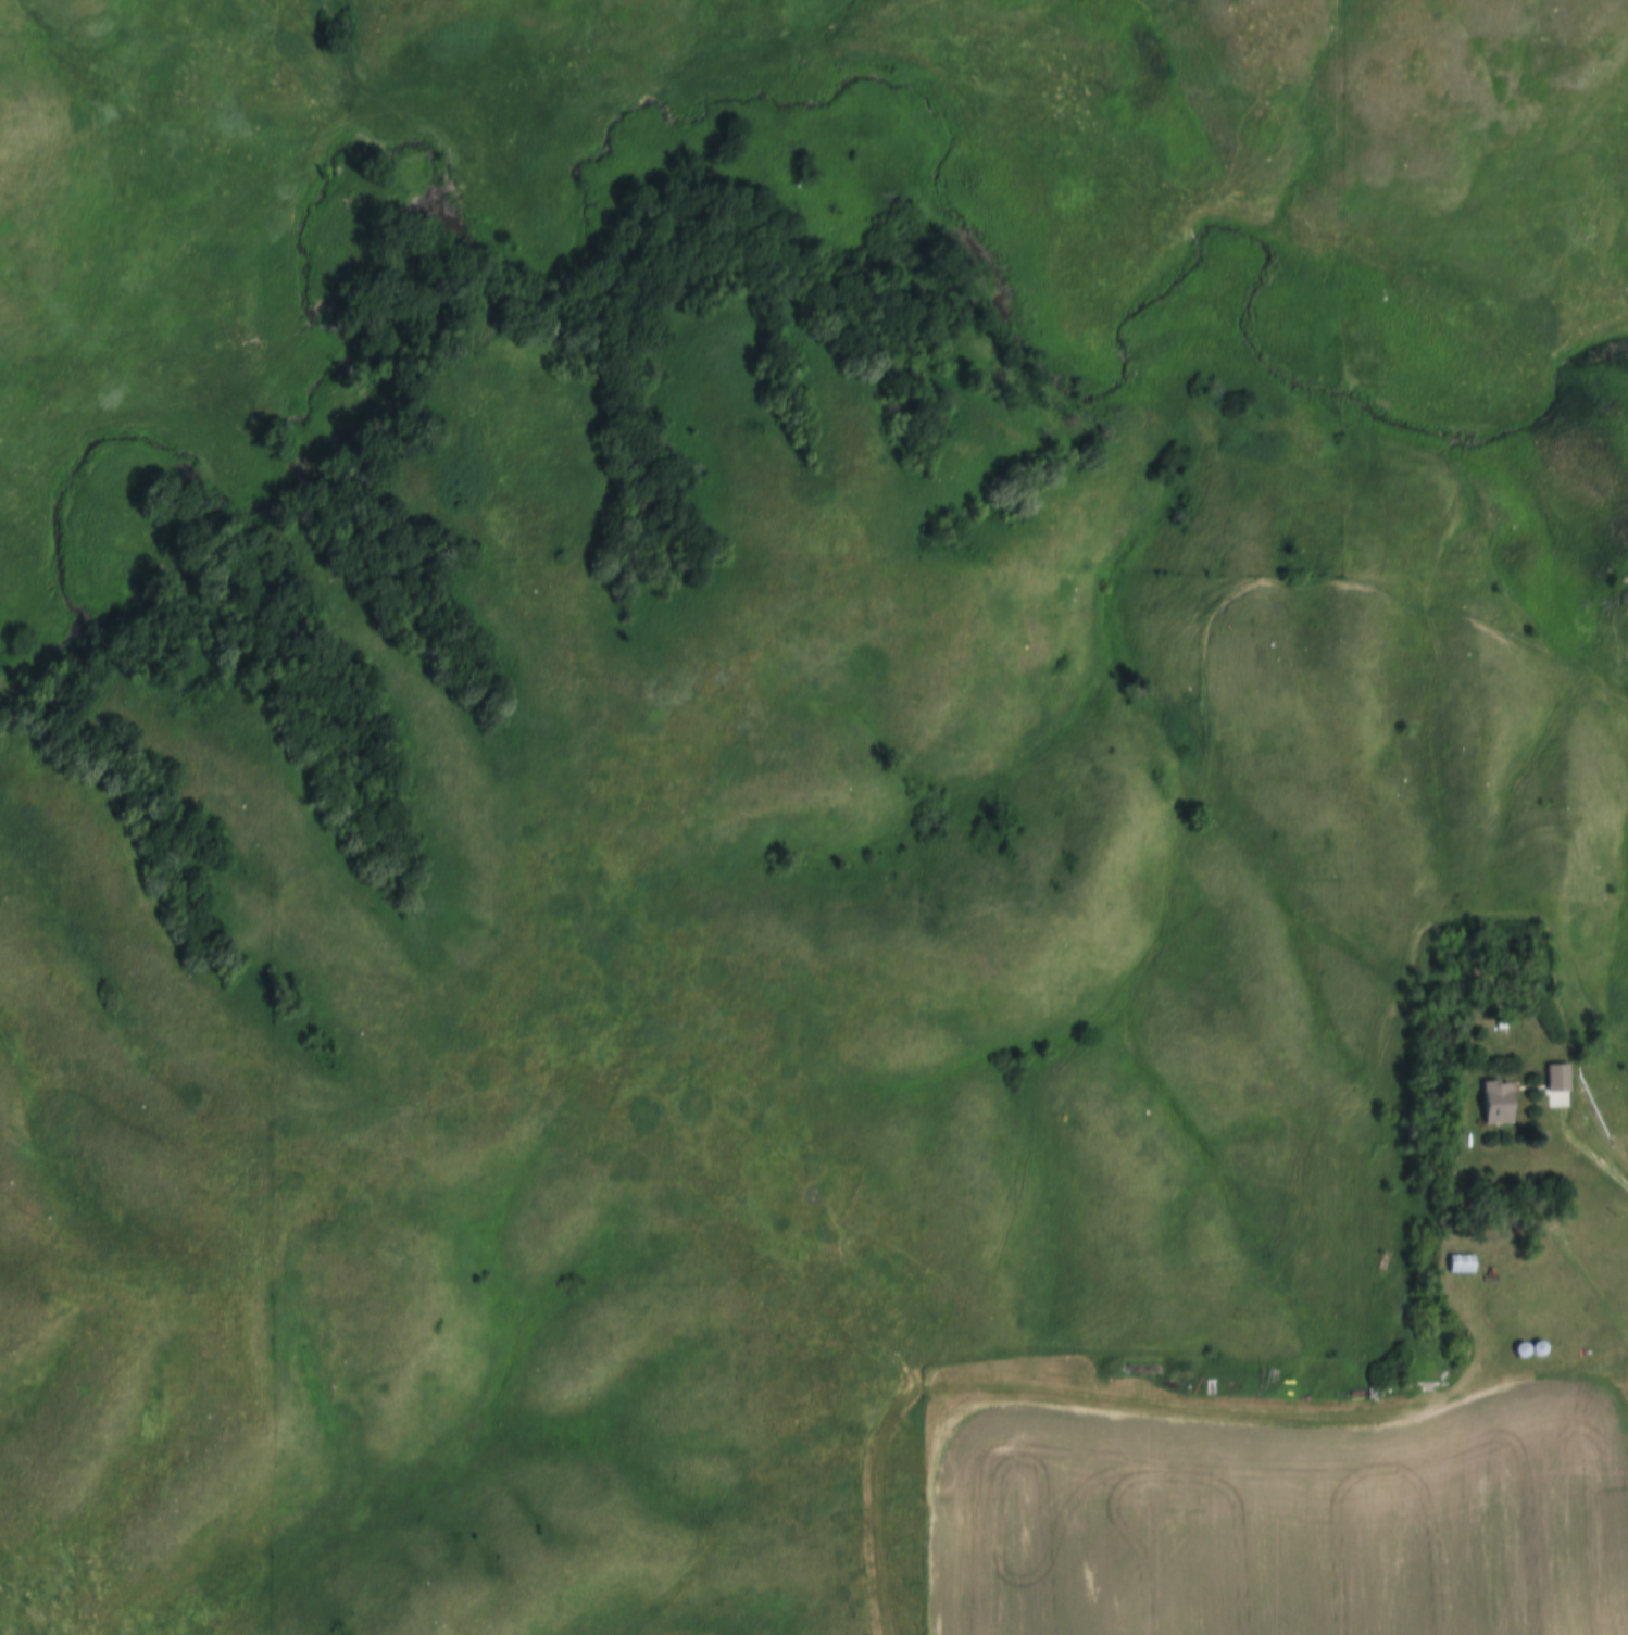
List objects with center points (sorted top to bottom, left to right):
building: (1493, 1023)
building: (1551, 1077)
building: (1489, 1102)
road: (1594, 1110)
building: (1456, 1262)
building: (1538, 1349)
silo: (1538, 1349)
building: (1521, 1350)
silo: (1521, 1350)

